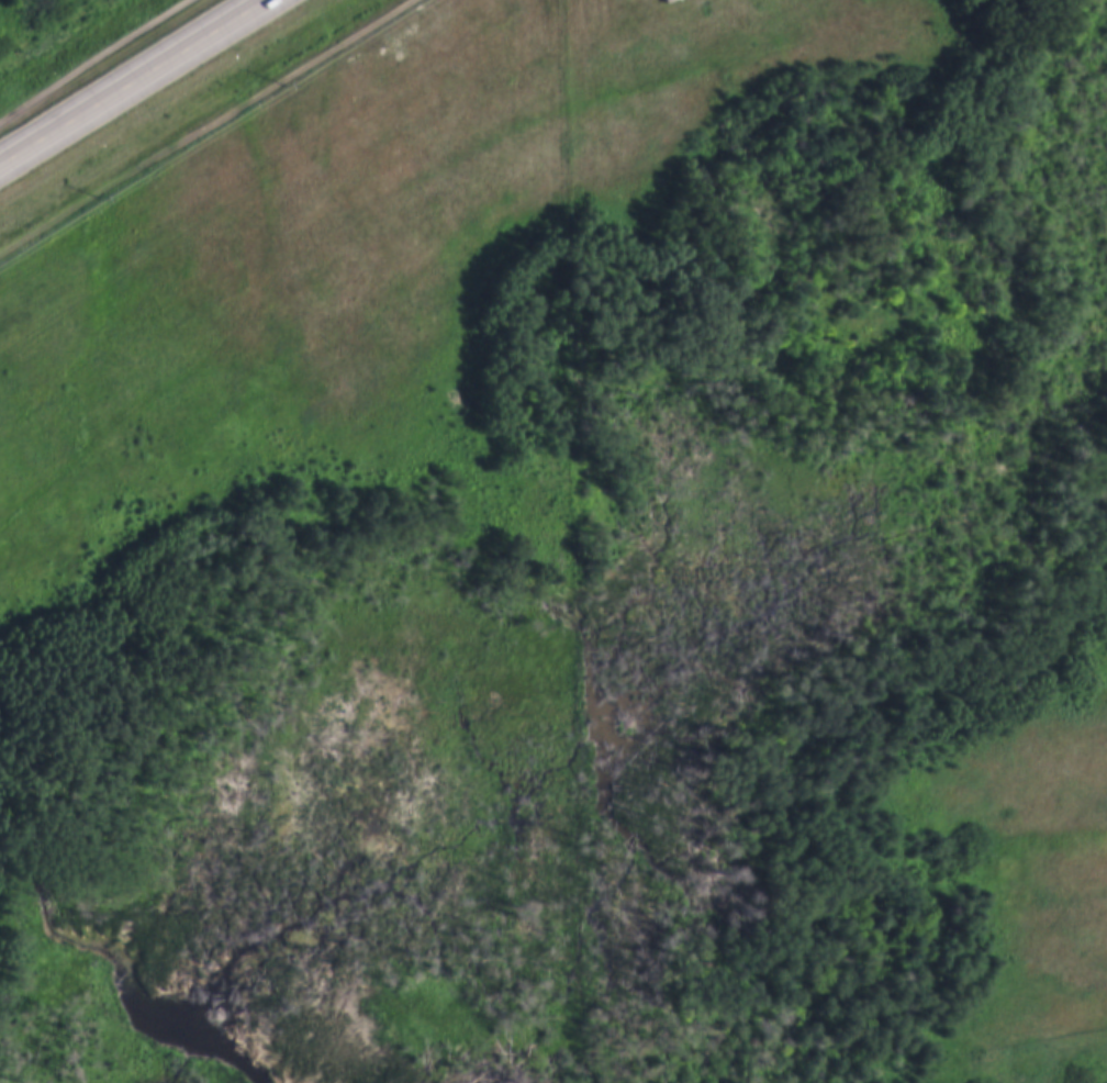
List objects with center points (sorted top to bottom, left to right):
road: (131, 80)
road: (203, 124)

